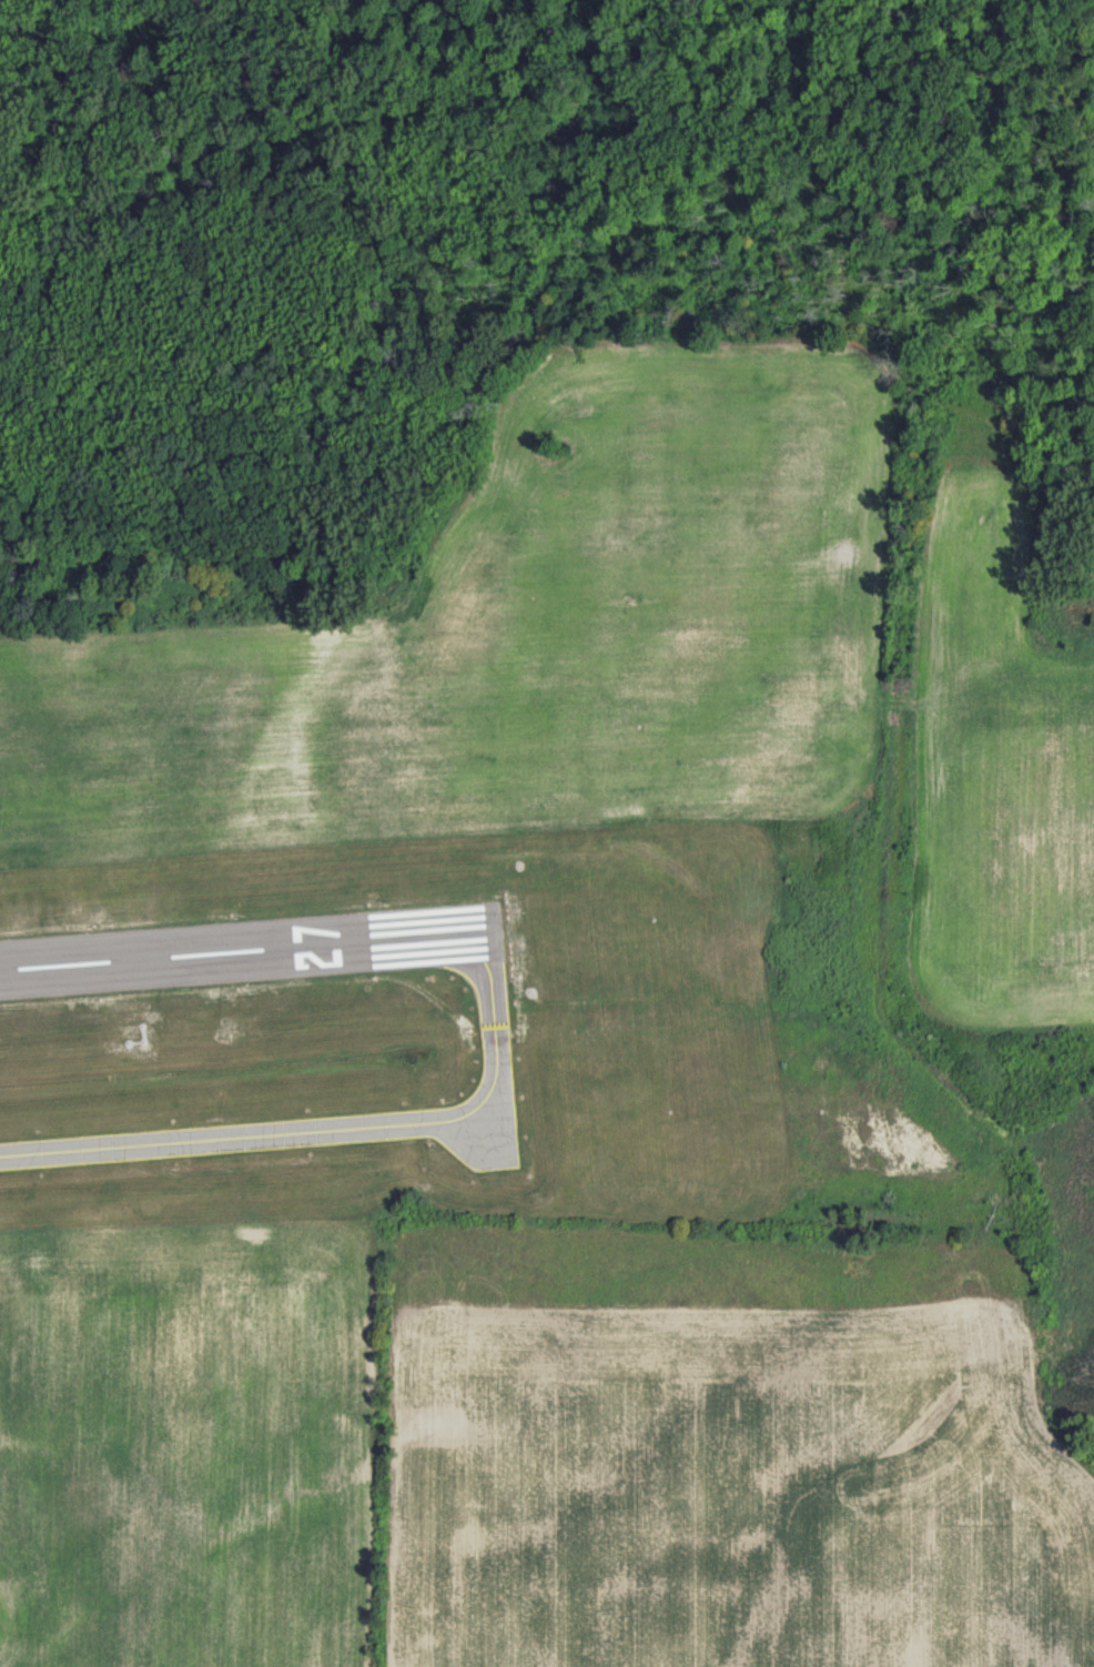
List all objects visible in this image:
airport runway: (252, 941)
airport: (409, 1030)
airport taxiway: (335, 1122)

